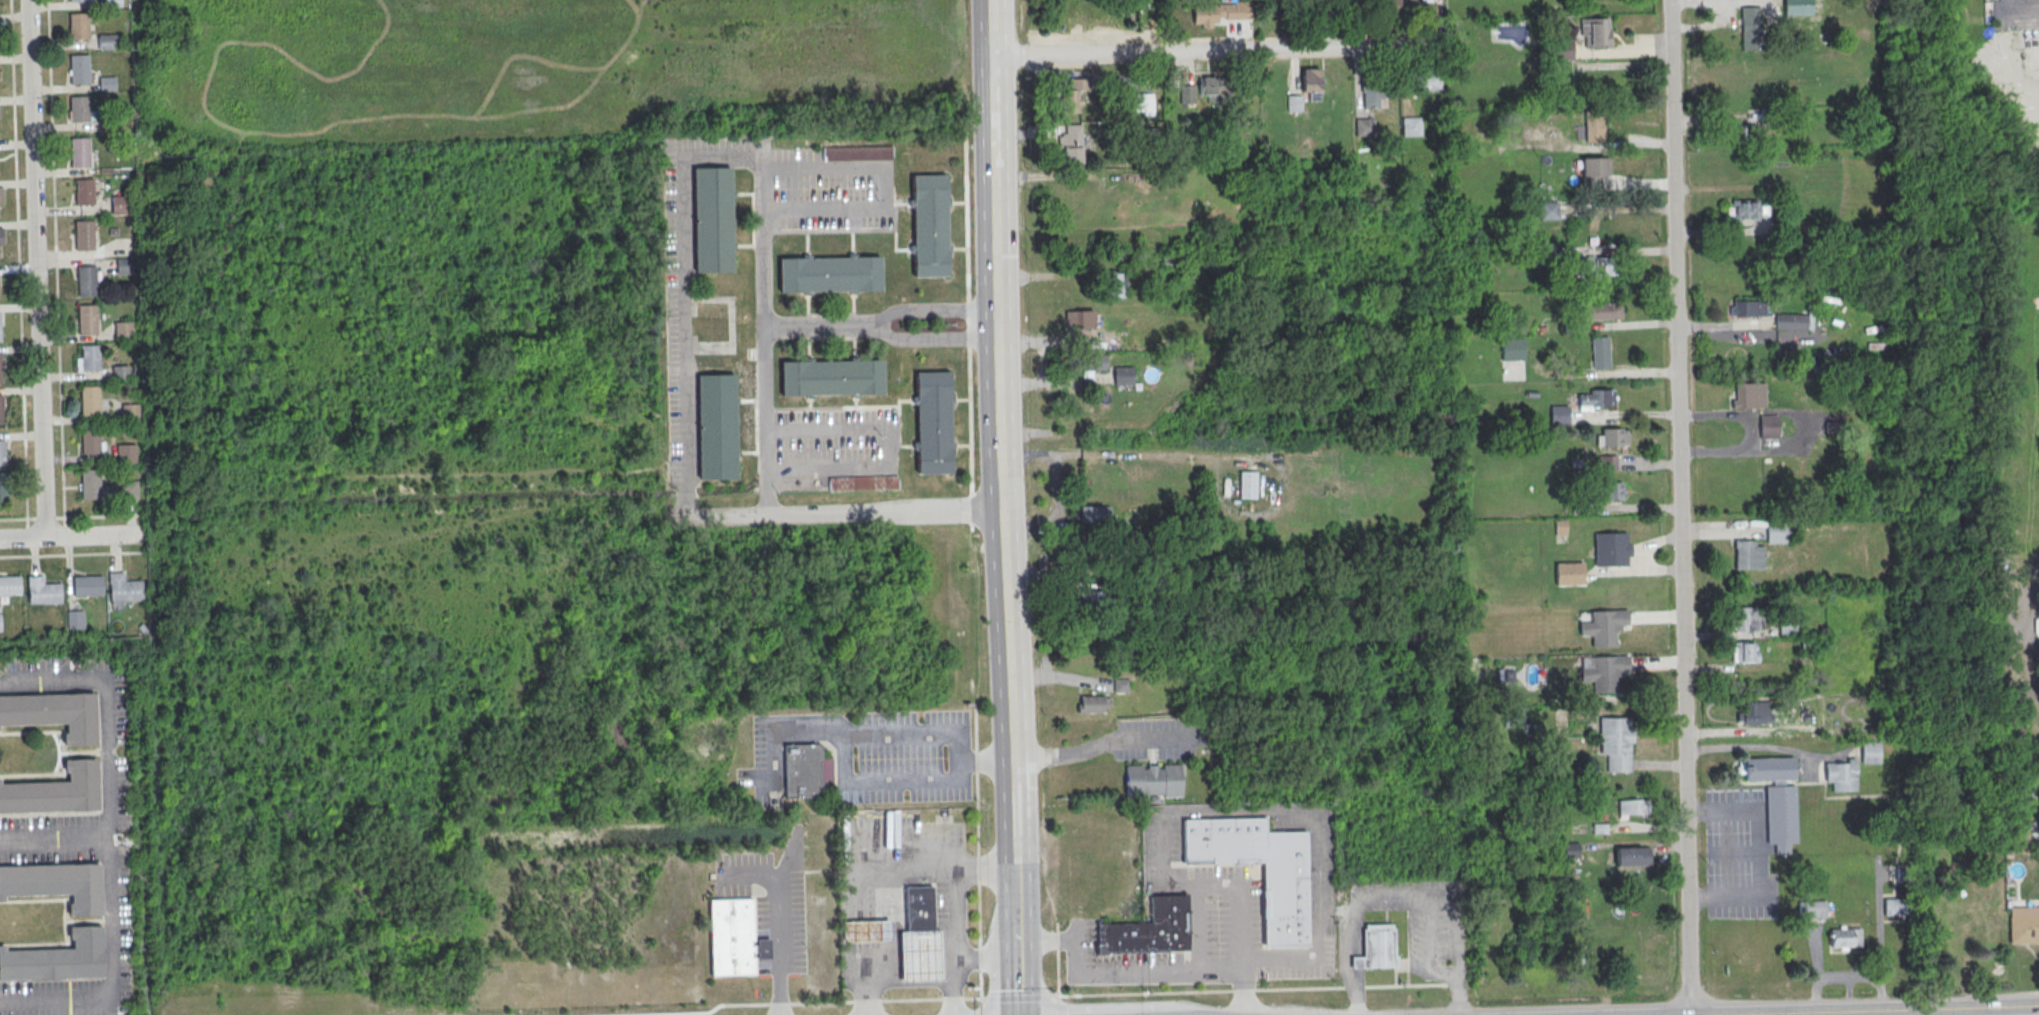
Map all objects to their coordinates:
building: (77, 1)
building: (111, 3)
building: (1401, 6)
building: (1797, 7)
building: (1300, 10)
building: (1221, 12)
building: (78, 27)
road: (989, 28)
building: (1750, 28)
building: (1595, 33)
building: (107, 42)
road: (1215, 50)
building: (79, 70)
building: (1587, 79)
building: (1310, 80)
building: (1423, 81)
building: (106, 83)
building: (1375, 88)
building: (1214, 90)
building: (1186, 94)
building: (1073, 95)
building: (1136, 102)
building: (1293, 103)
building: (79, 109)
building: (108, 124)
building: (1411, 126)
building: (1364, 128)
building: (1593, 128)
building: (1071, 145)
building: (79, 153)
building: (856, 154)
road: (721, 157)
building: (1592, 173)
road: (884, 190)
building: (83, 192)
building: (1, 195)
building: (119, 205)
road: (1616, 209)
building: (1548, 211)
building: (1746, 211)
building: (713, 220)
building: (929, 226)
building: (1781, 229)
building: (83, 235)
building: (1, 237)
road: (1616, 251)
building: (1549, 260)
road: (18, 263)
road: (55, 263)
building: (124, 266)
building: (1592, 267)
road: (37, 268)
building: (829, 275)
building: (86, 281)
building: (1116, 284)
road: (934, 308)
building: (1748, 309)
building: (1603, 311)
building: (86, 319)
building: (1079, 320)
building: (1790, 322)
road: (820, 324)
road: (1627, 325)
road: (968, 327)
building: (1571, 327)
building: (123, 330)
building: (0, 331)
road: (934, 337)
building: (1512, 350)
building: (1600, 353)
building: (89, 357)
building: (1093, 364)
building: (0, 373)
building: (120, 373)
building: (1123, 376)
building: (831, 379)
building: (1749, 396)
building: (1596, 400)
building: (89, 401)
building: (0, 409)
building: (129, 413)
road: (1623, 414)
building: (1559, 415)
building: (932, 423)
building: (1768, 427)
building: (716, 428)
building: (1613, 438)
building: (90, 440)
road: (888, 445)
building: (2, 452)
building: (126, 452)
road: (999, 454)
building: (1607, 463)
road: (1647, 464)
building: (90, 482)
building: (863, 484)
building: (3, 485)
building: (1247, 485)
building: (128, 488)
building: (1610, 490)
road: (1056, 493)
road: (1680, 507)
road: (838, 514)
road: (98, 515)
building: (1094, 515)
road: (44, 517)
road: (17, 518)
building: (1560, 528)
road: (63, 530)
road: (1723, 531)
road: (26, 532)
building: (1775, 532)
road: (70, 534)
building: (1610, 550)
road: (71, 553)
building: (1748, 556)
building: (1160, 562)
road: (1632, 571)
building: (1569, 575)
building: (10, 583)
building: (86, 584)
building: (123, 587)
building: (42, 589)
building: (1095, 600)
building: (74, 618)
building: (1748, 619)
building: (0, 622)
building: (1603, 627)
building: (1745, 652)
building: (1604, 673)
road: (1060, 677)
building: (1121, 686)
building: (1090, 705)
building: (1754, 712)
building: (53, 713)
building: (1517, 722)
road: (788, 731)
parking lot: (1159, 739)
road: (1100, 742)
building: (1616, 744)
building: (1870, 753)
parking lot: (905, 758)
road: (1657, 765)
building: (802, 772)
building: (1841, 776)
road: (848, 780)
building: (1152, 781)
building: (55, 791)
building: (1777, 799)
building: (1632, 808)
road: (1199, 811)
road: (55, 833)
building: (2017, 837)
road: (110, 839)
building: (1570, 850)
road: (977, 855)
building: (1631, 856)
road: (914, 870)
building: (1903, 872)
building: (1284, 878)
building: (56, 883)
road: (1014, 884)
road: (1401, 900)
building: (1898, 907)
building: (1812, 910)
building: (918, 911)
road: (778, 925)
building: (2023, 925)
building: (1148, 930)
building: (864, 932)
road: (868, 932)
building: (733, 939)
building: (1845, 939)
road: (954, 942)
building: (1377, 946)
building: (919, 957)
building: (57, 958)
road: (978, 960)
road: (920, 965)
road: (1016, 965)
road: (1057, 965)
road: (884, 966)
road: (1220, 969)
road: (869, 978)
road: (1241, 985)
road: (1245, 989)
road: (1019, 996)
road: (850, 1000)
road: (1883, 1011)
road: (1059, 1012)
road: (980, 1013)
road: (1920, 1013)

